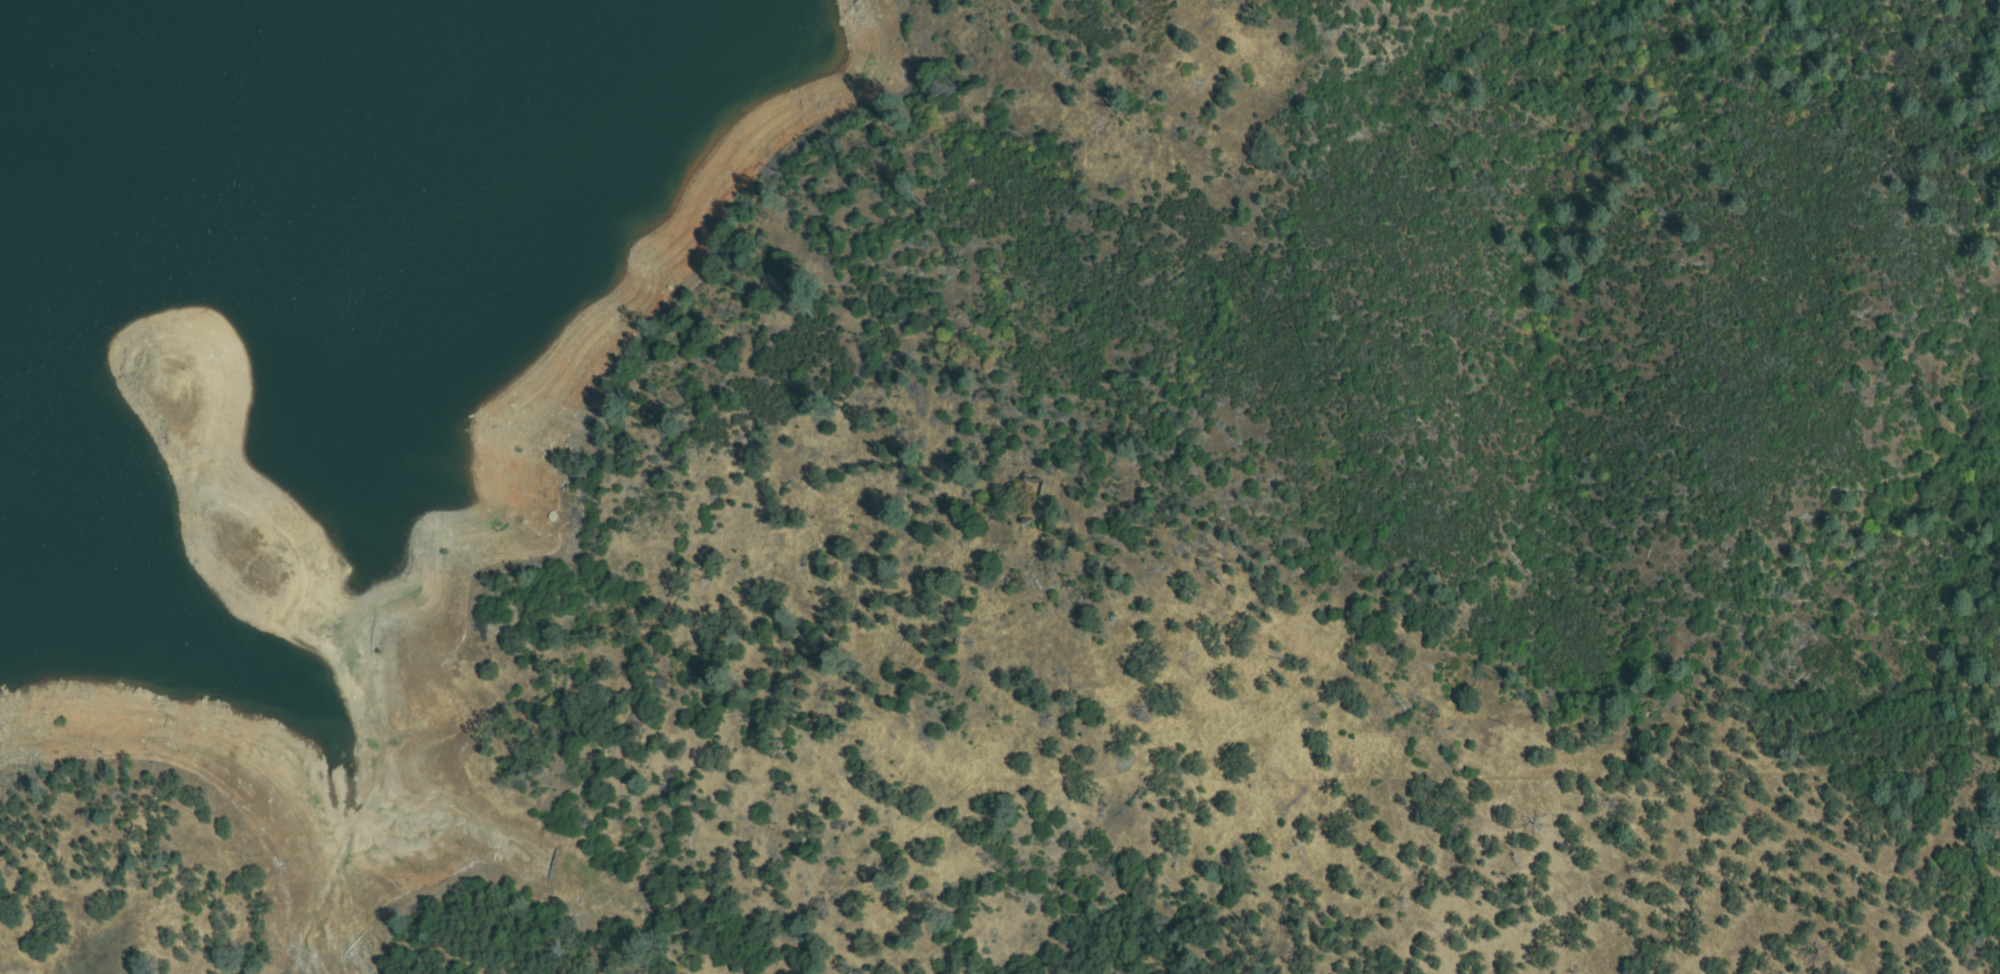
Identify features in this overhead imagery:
road: (60, 972)

